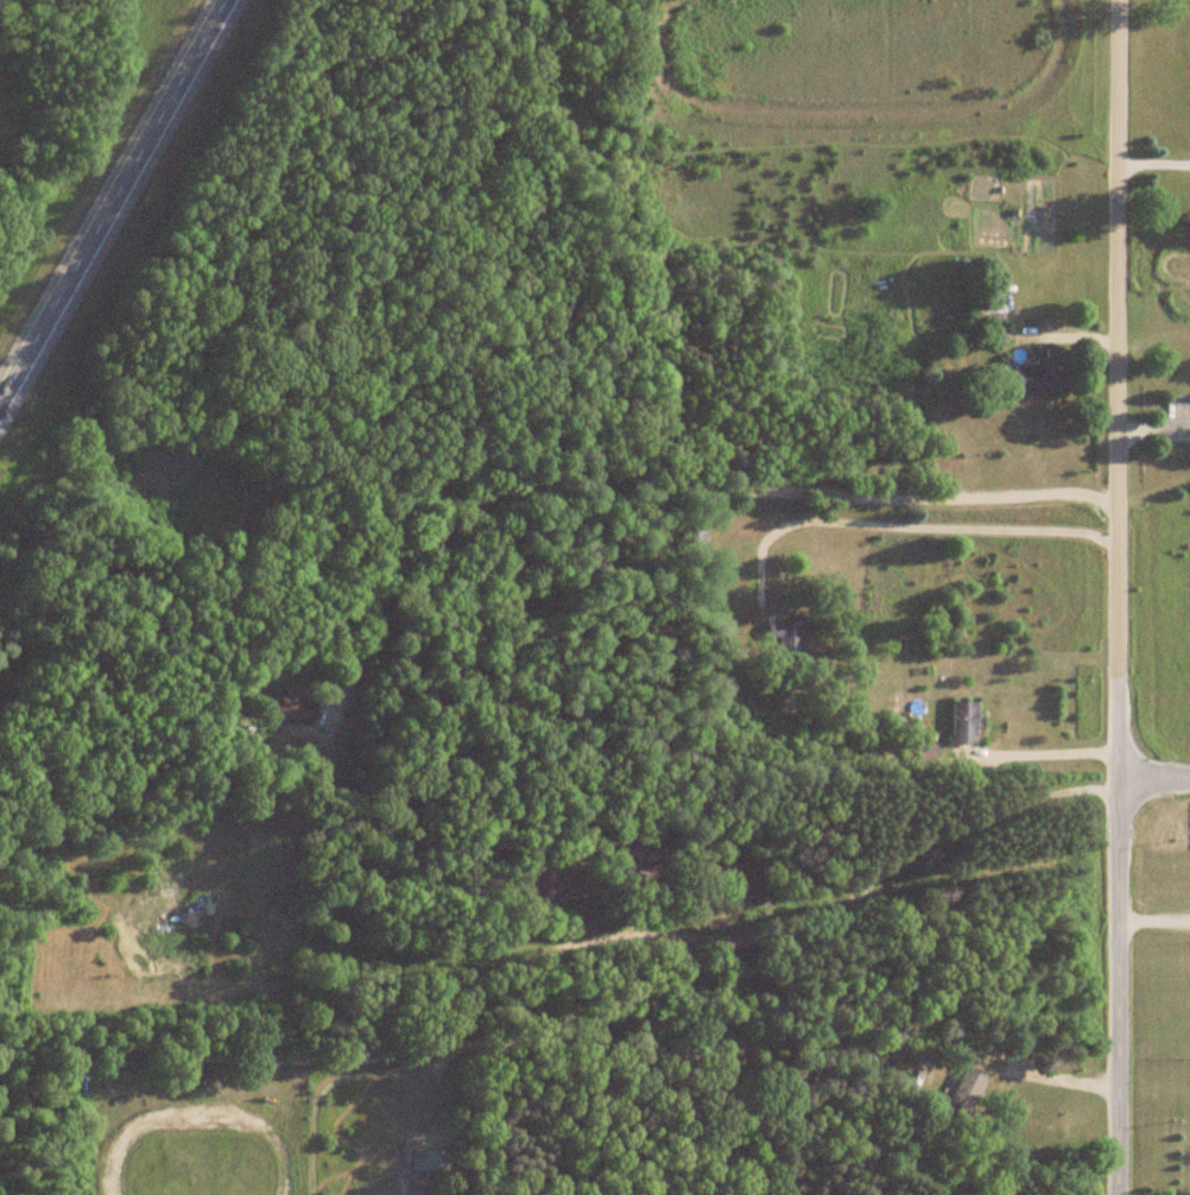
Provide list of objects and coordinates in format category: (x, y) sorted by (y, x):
road: (1153, 169)
road: (105, 178)
road: (1115, 335)
road: (861, 367)
building: (1038, 375)
road: (905, 525)
building: (690, 543)
building: (785, 636)
building: (292, 719)
building: (962, 722)
road: (1153, 782)
building: (638, 855)
building: (532, 886)
road: (1144, 925)
road: (1097, 931)
road: (559, 948)
building: (273, 957)
building: (198, 1075)
building: (974, 1082)
building: (428, 1162)

